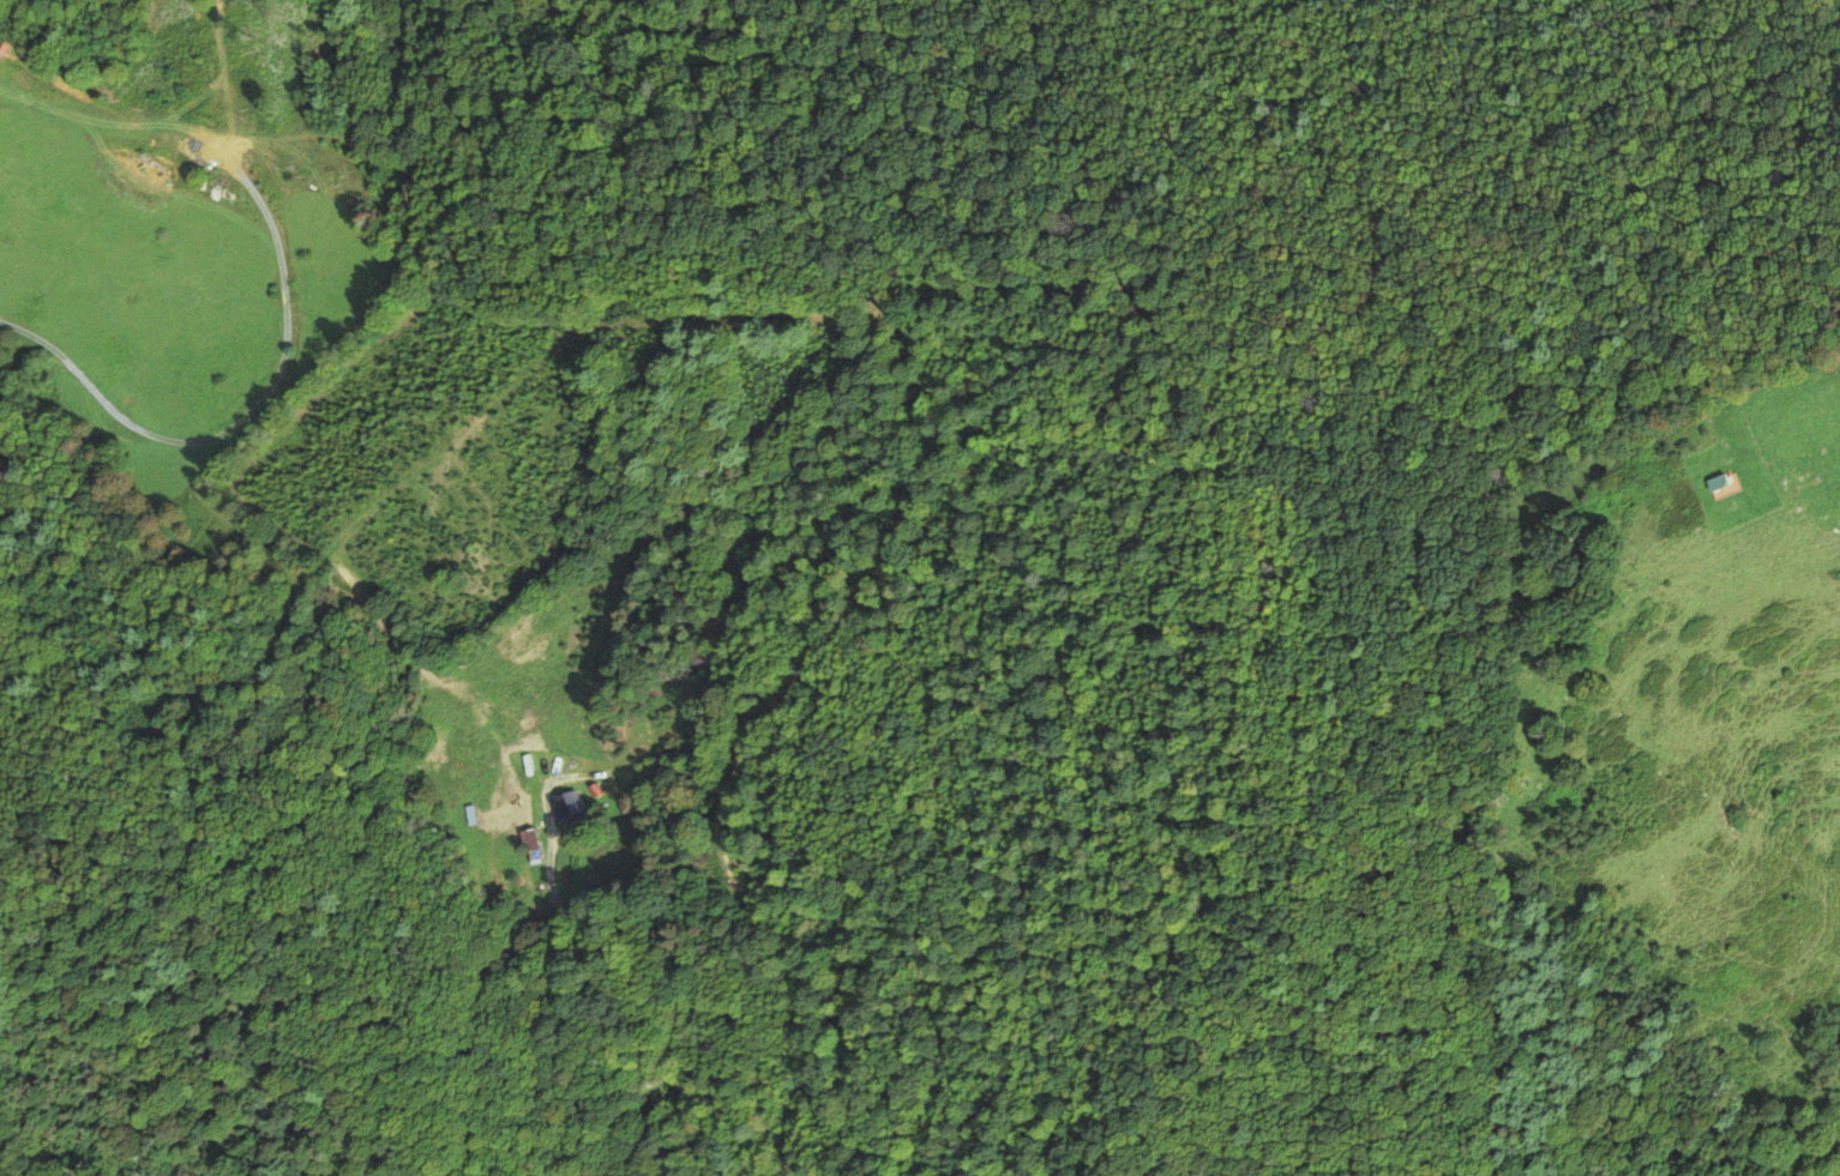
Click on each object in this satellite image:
road: (819, 297)
road: (1791, 388)
building: (698, 665)
building: (564, 807)
building: (528, 848)

